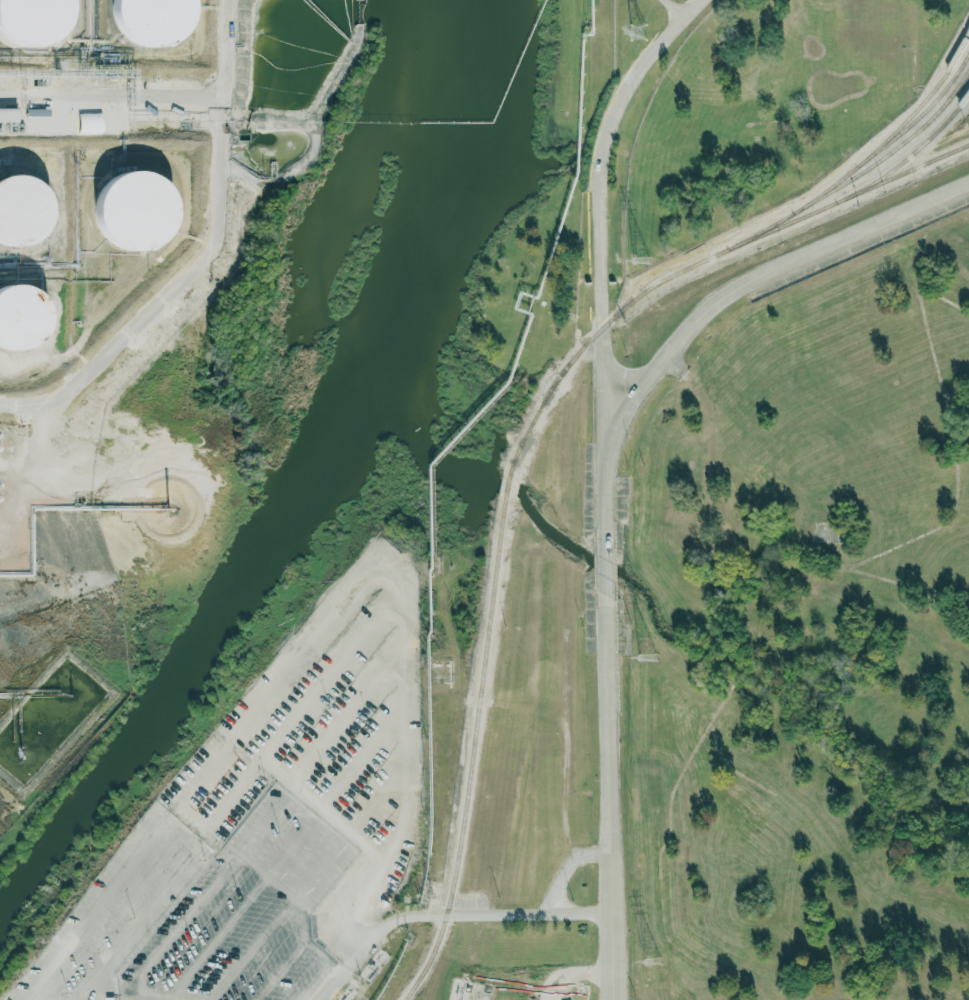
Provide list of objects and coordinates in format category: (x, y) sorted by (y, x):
building: (32, 22)
building: (151, 22)
power tower: (637, 31)
road: (109, 96)
building: (8, 115)
railway: (919, 115)
building: (89, 123)
railway: (890, 151)
railway: (907, 156)
railway: (864, 159)
building: (22, 211)
building: (133, 212)
road: (600, 253)
road: (199, 255)
power tower: (641, 258)
road: (760, 280)
building: (20, 319)
railway: (517, 451)
road: (606, 567)
power tower: (647, 656)
road: (610, 797)
road: (176, 817)
road: (279, 863)
road: (288, 909)
road: (448, 915)
power tower: (652, 960)
road: (281, 969)
road: (576, 977)
road: (555, 997)

